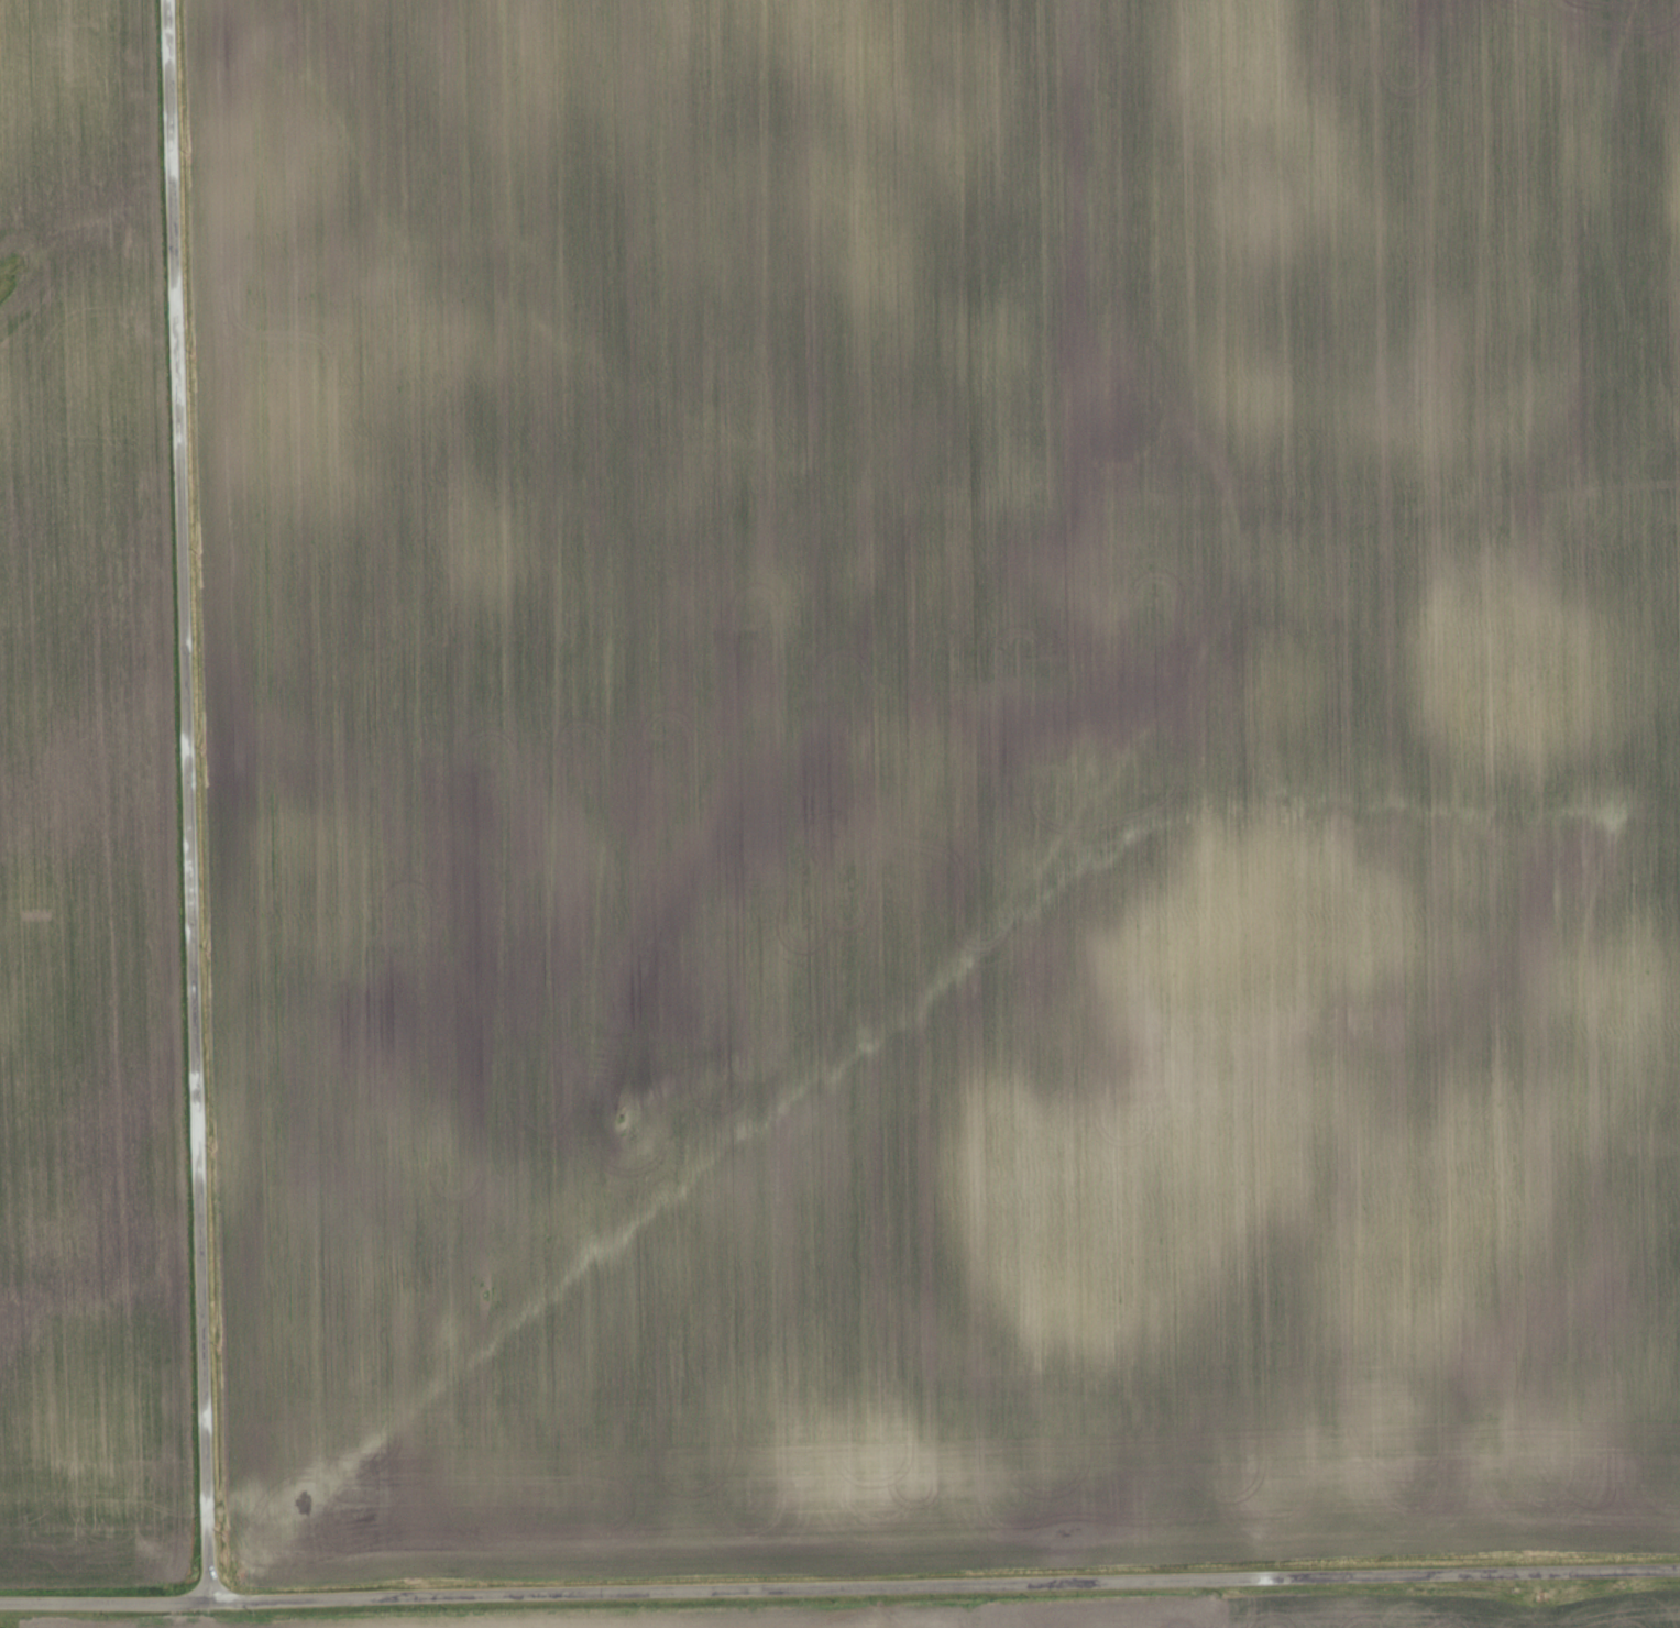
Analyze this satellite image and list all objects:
crop: (941, 780)
road: (187, 801)
crop: (87, 823)
road: (839, 1587)
crop: (978, 1614)

